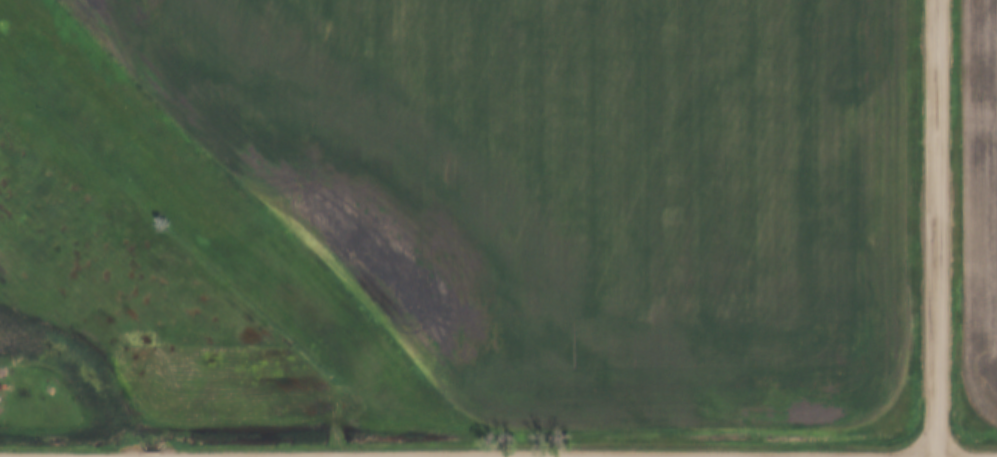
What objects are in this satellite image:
road: (937, 228)
road: (98, 456)

